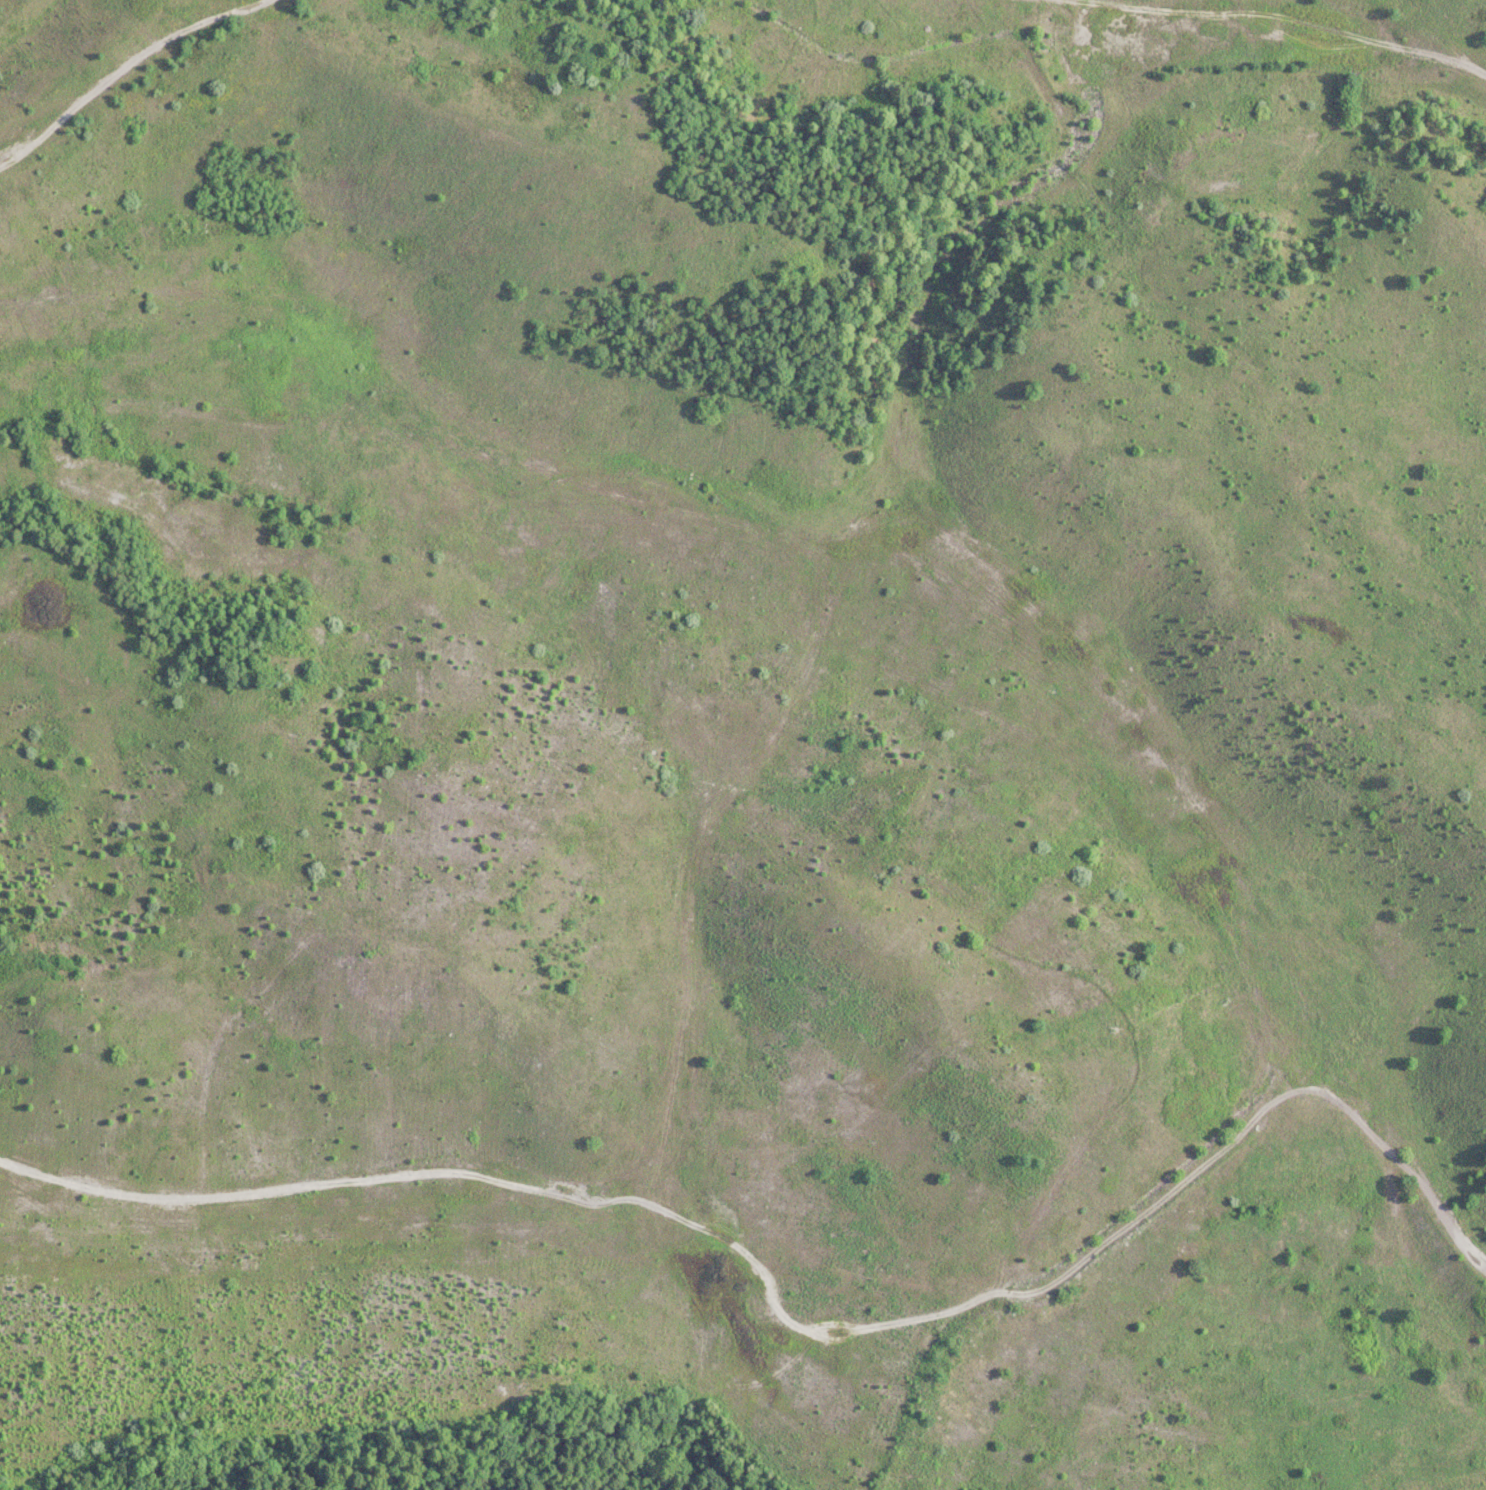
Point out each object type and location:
quarry: (749, 730)

